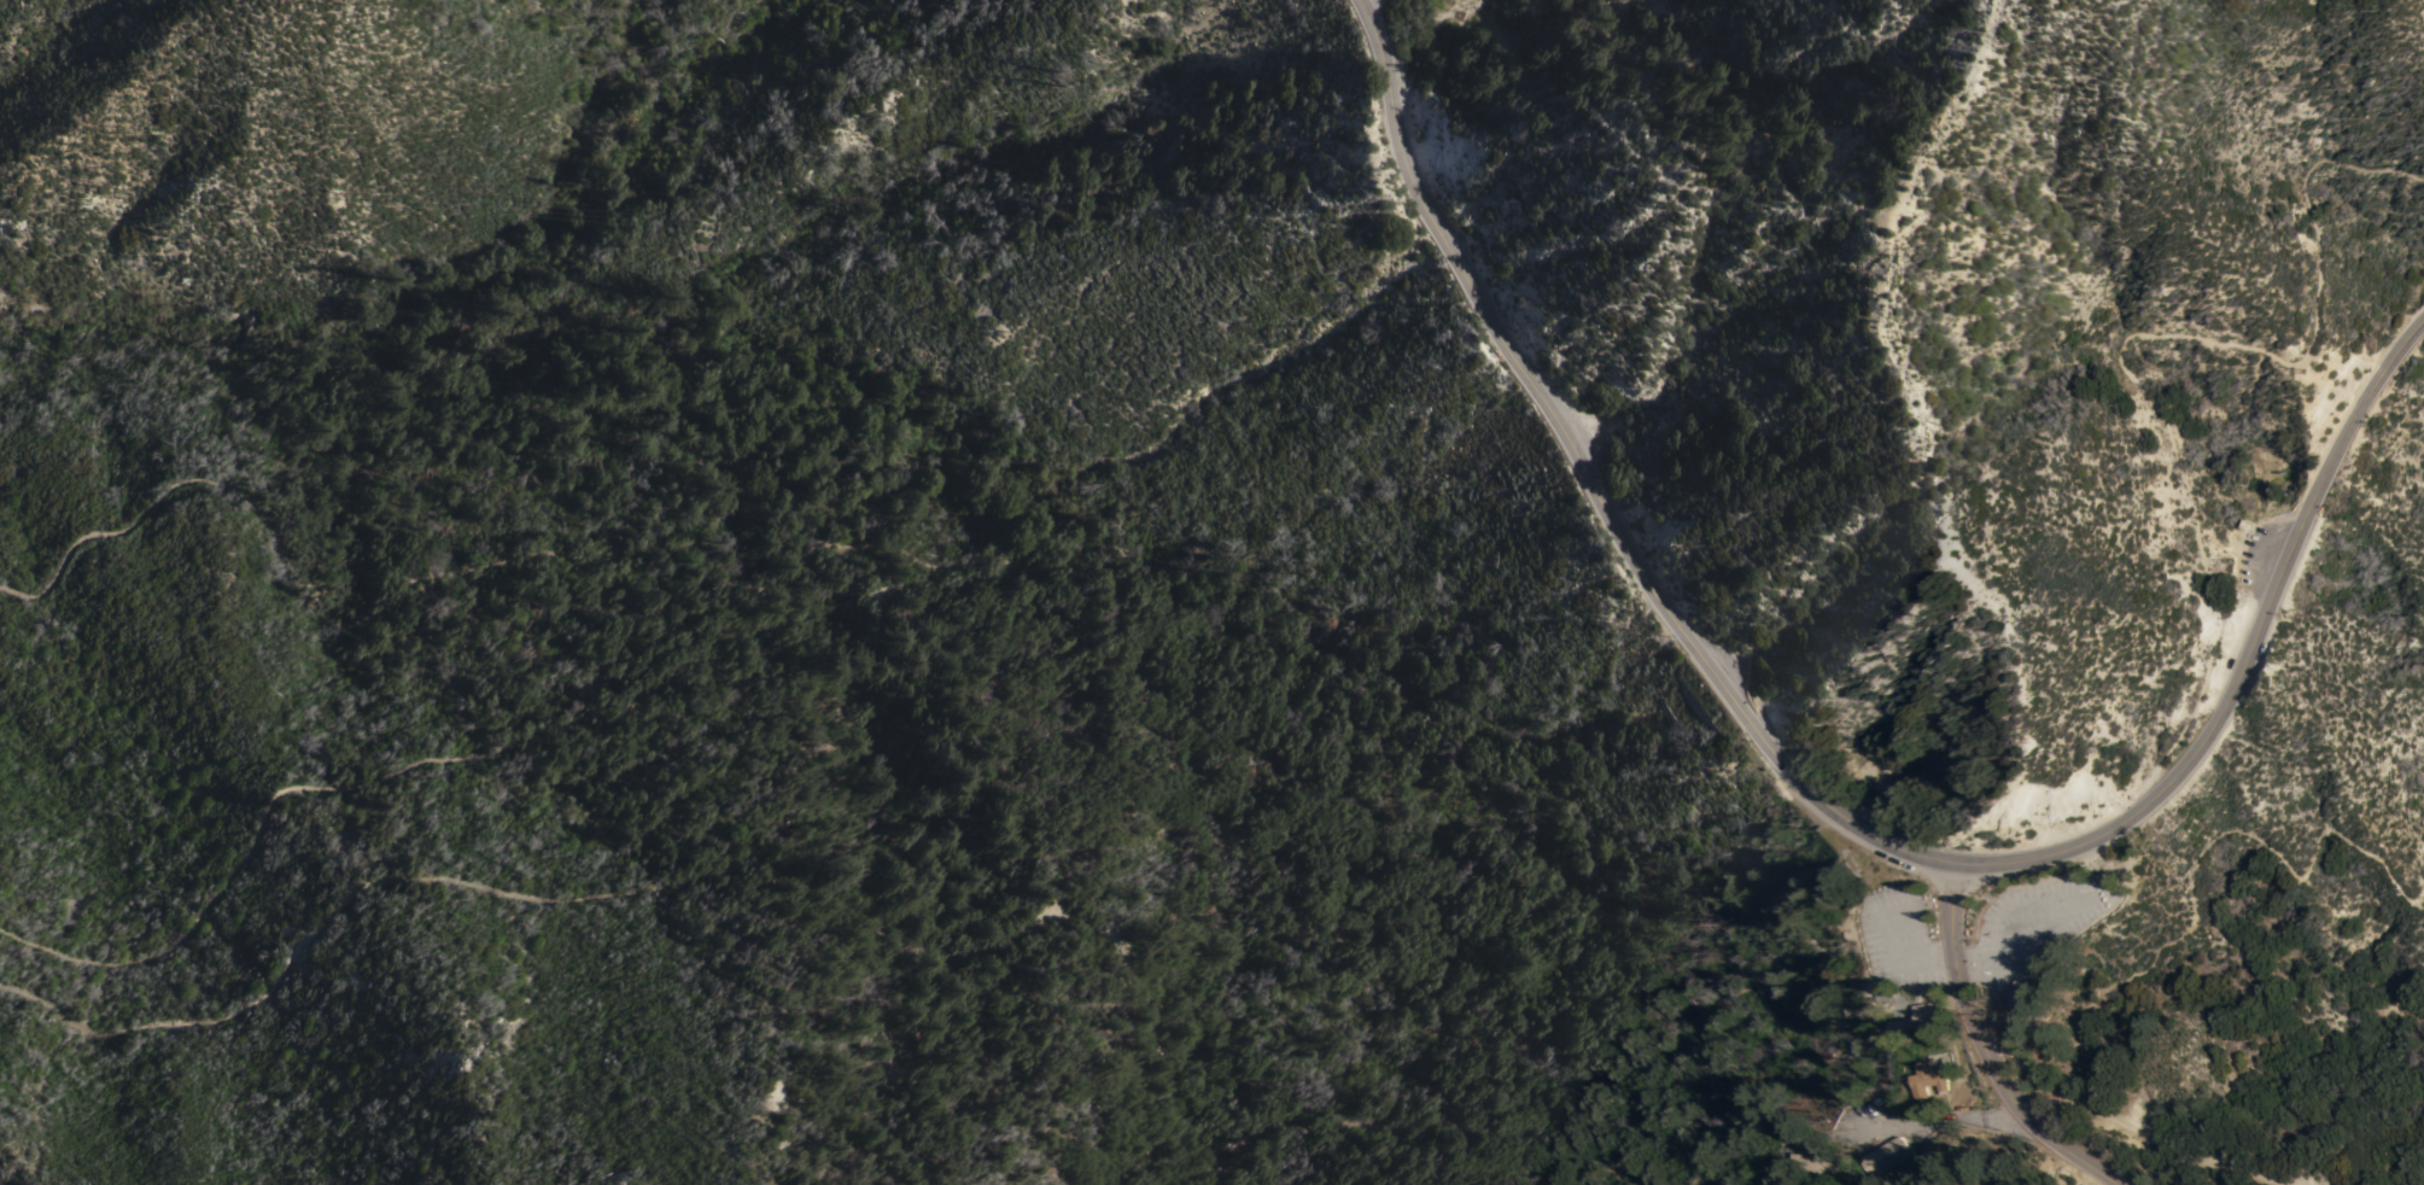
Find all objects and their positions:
road: (2132, 380)
parking lot: (1585, 436)
road: (1590, 481)
silo: (2250, 524)
parking lot: (2251, 559)
road: (994, 578)
silo: (2231, 611)
road: (2245, 661)
road: (2251, 829)
road: (2420, 858)
road: (1065, 915)
parking lot: (2025, 924)
parking lot: (1903, 938)
road: (1997, 948)
road: (1920, 950)
building: (2022, 976)
building: (1916, 1020)
road: (1982, 1043)
building: (1931, 1080)
road: (2122, 1126)
road: (1844, 1131)
road: (1876, 1131)
building: (1883, 1156)
building: (1811, 1166)
road: (1600, 1175)

